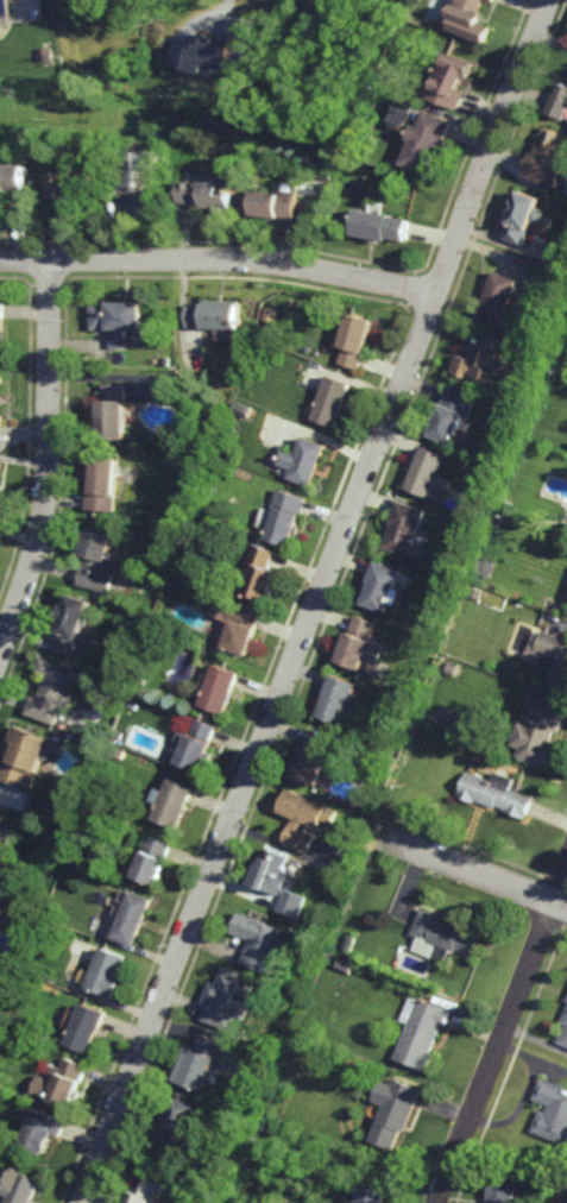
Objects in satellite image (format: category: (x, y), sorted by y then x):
building: (491, 0)
road: (233, 6)
building: (468, 19)
building: (225, 49)
building: (45, 53)
building: (385, 74)
building: (451, 81)
building: (560, 102)
building: (428, 141)
building: (289, 150)
building: (549, 158)
building: (139, 169)
building: (12, 181)
building: (69, 194)
building: (208, 196)
building: (277, 207)
building: (561, 208)
building: (152, 209)
building: (18, 210)
building: (523, 218)
building: (382, 228)
road: (220, 258)
building: (498, 300)
building: (214, 316)
building: (115, 322)
building: (0, 323)
building: (555, 338)
building: (357, 341)
building: (549, 354)
building: (486, 361)
building: (163, 363)
building: (0, 378)
building: (332, 398)
building: (112, 408)
building: (452, 411)
building: (0, 416)
building: (244, 442)
road: (46, 459)
building: (303, 459)
building: (0, 465)
building: (429, 471)
building: (102, 481)
building: (505, 504)
building: (202, 508)
building: (285, 515)
building: (405, 527)
building: (96, 559)
building: (262, 572)
building: (176, 578)
building: (382, 586)
building: (475, 592)
road: (315, 601)
building: (69, 622)
building: (237, 624)
building: (359, 642)
building: (554, 657)
building: (139, 682)
building: (120, 686)
building: (219, 687)
building: (52, 691)
building: (412, 691)
building: (338, 699)
building: (133, 704)
building: (411, 704)
building: (538, 730)
building: (194, 744)
building: (118, 751)
building: (25, 756)
building: (313, 758)
building: (370, 763)
building: (390, 763)
building: (496, 793)
building: (174, 802)
building: (304, 819)
building: (5, 831)
building: (50, 837)
building: (152, 861)
building: (338, 867)
road: (475, 871)
building: (277, 882)
building: (133, 919)
building: (446, 936)
building: (321, 940)
building: (259, 943)
building: (347, 945)
building: (346, 966)
building: (107, 974)
building: (227, 1000)
building: (88, 1028)
road: (502, 1032)
building: (563, 1032)
building: (423, 1034)
building: (275, 1047)
building: (270, 1057)
building: (201, 1065)
building: (62, 1084)
building: (553, 1113)
building: (396, 1115)
building: (179, 1120)
building: (43, 1133)
building: (288, 1135)
building: (533, 1180)
building: (21, 1190)
building: (145, 1191)
building: (502, 1192)
building: (371, 1196)

